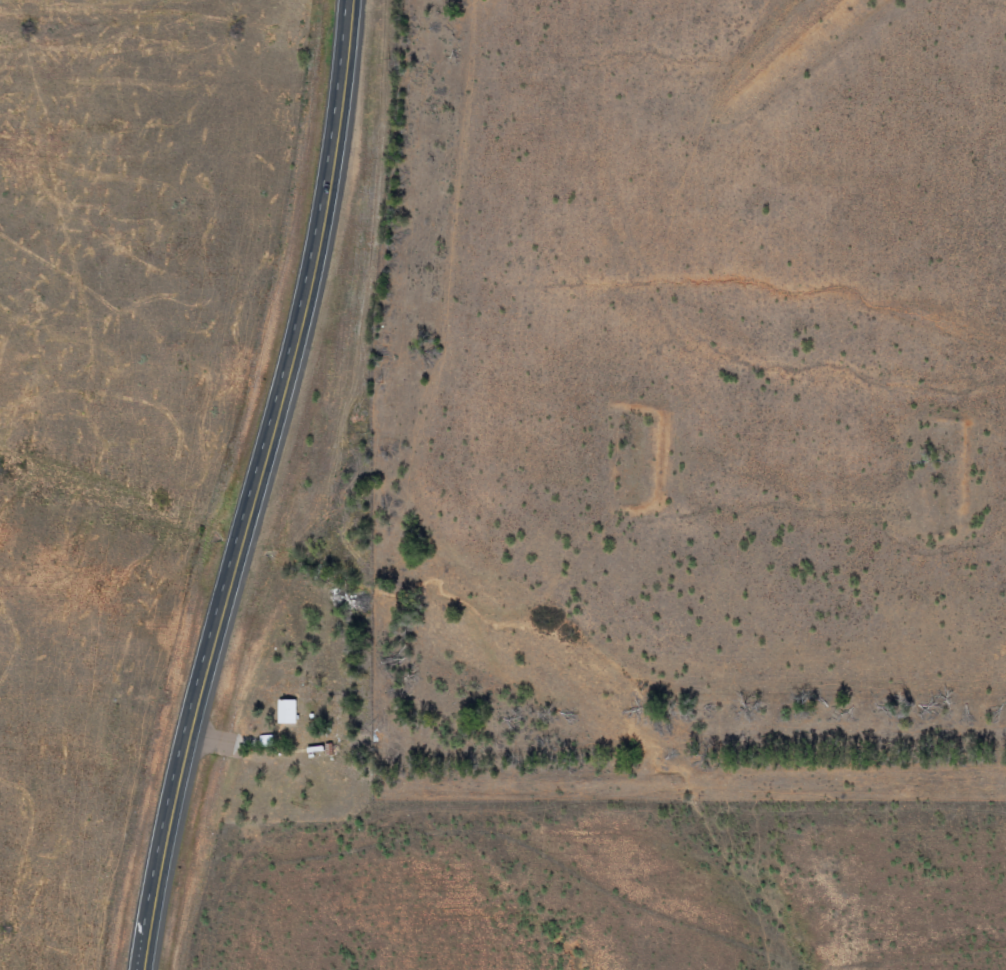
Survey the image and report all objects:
road: (263, 485)
building: (288, 713)

